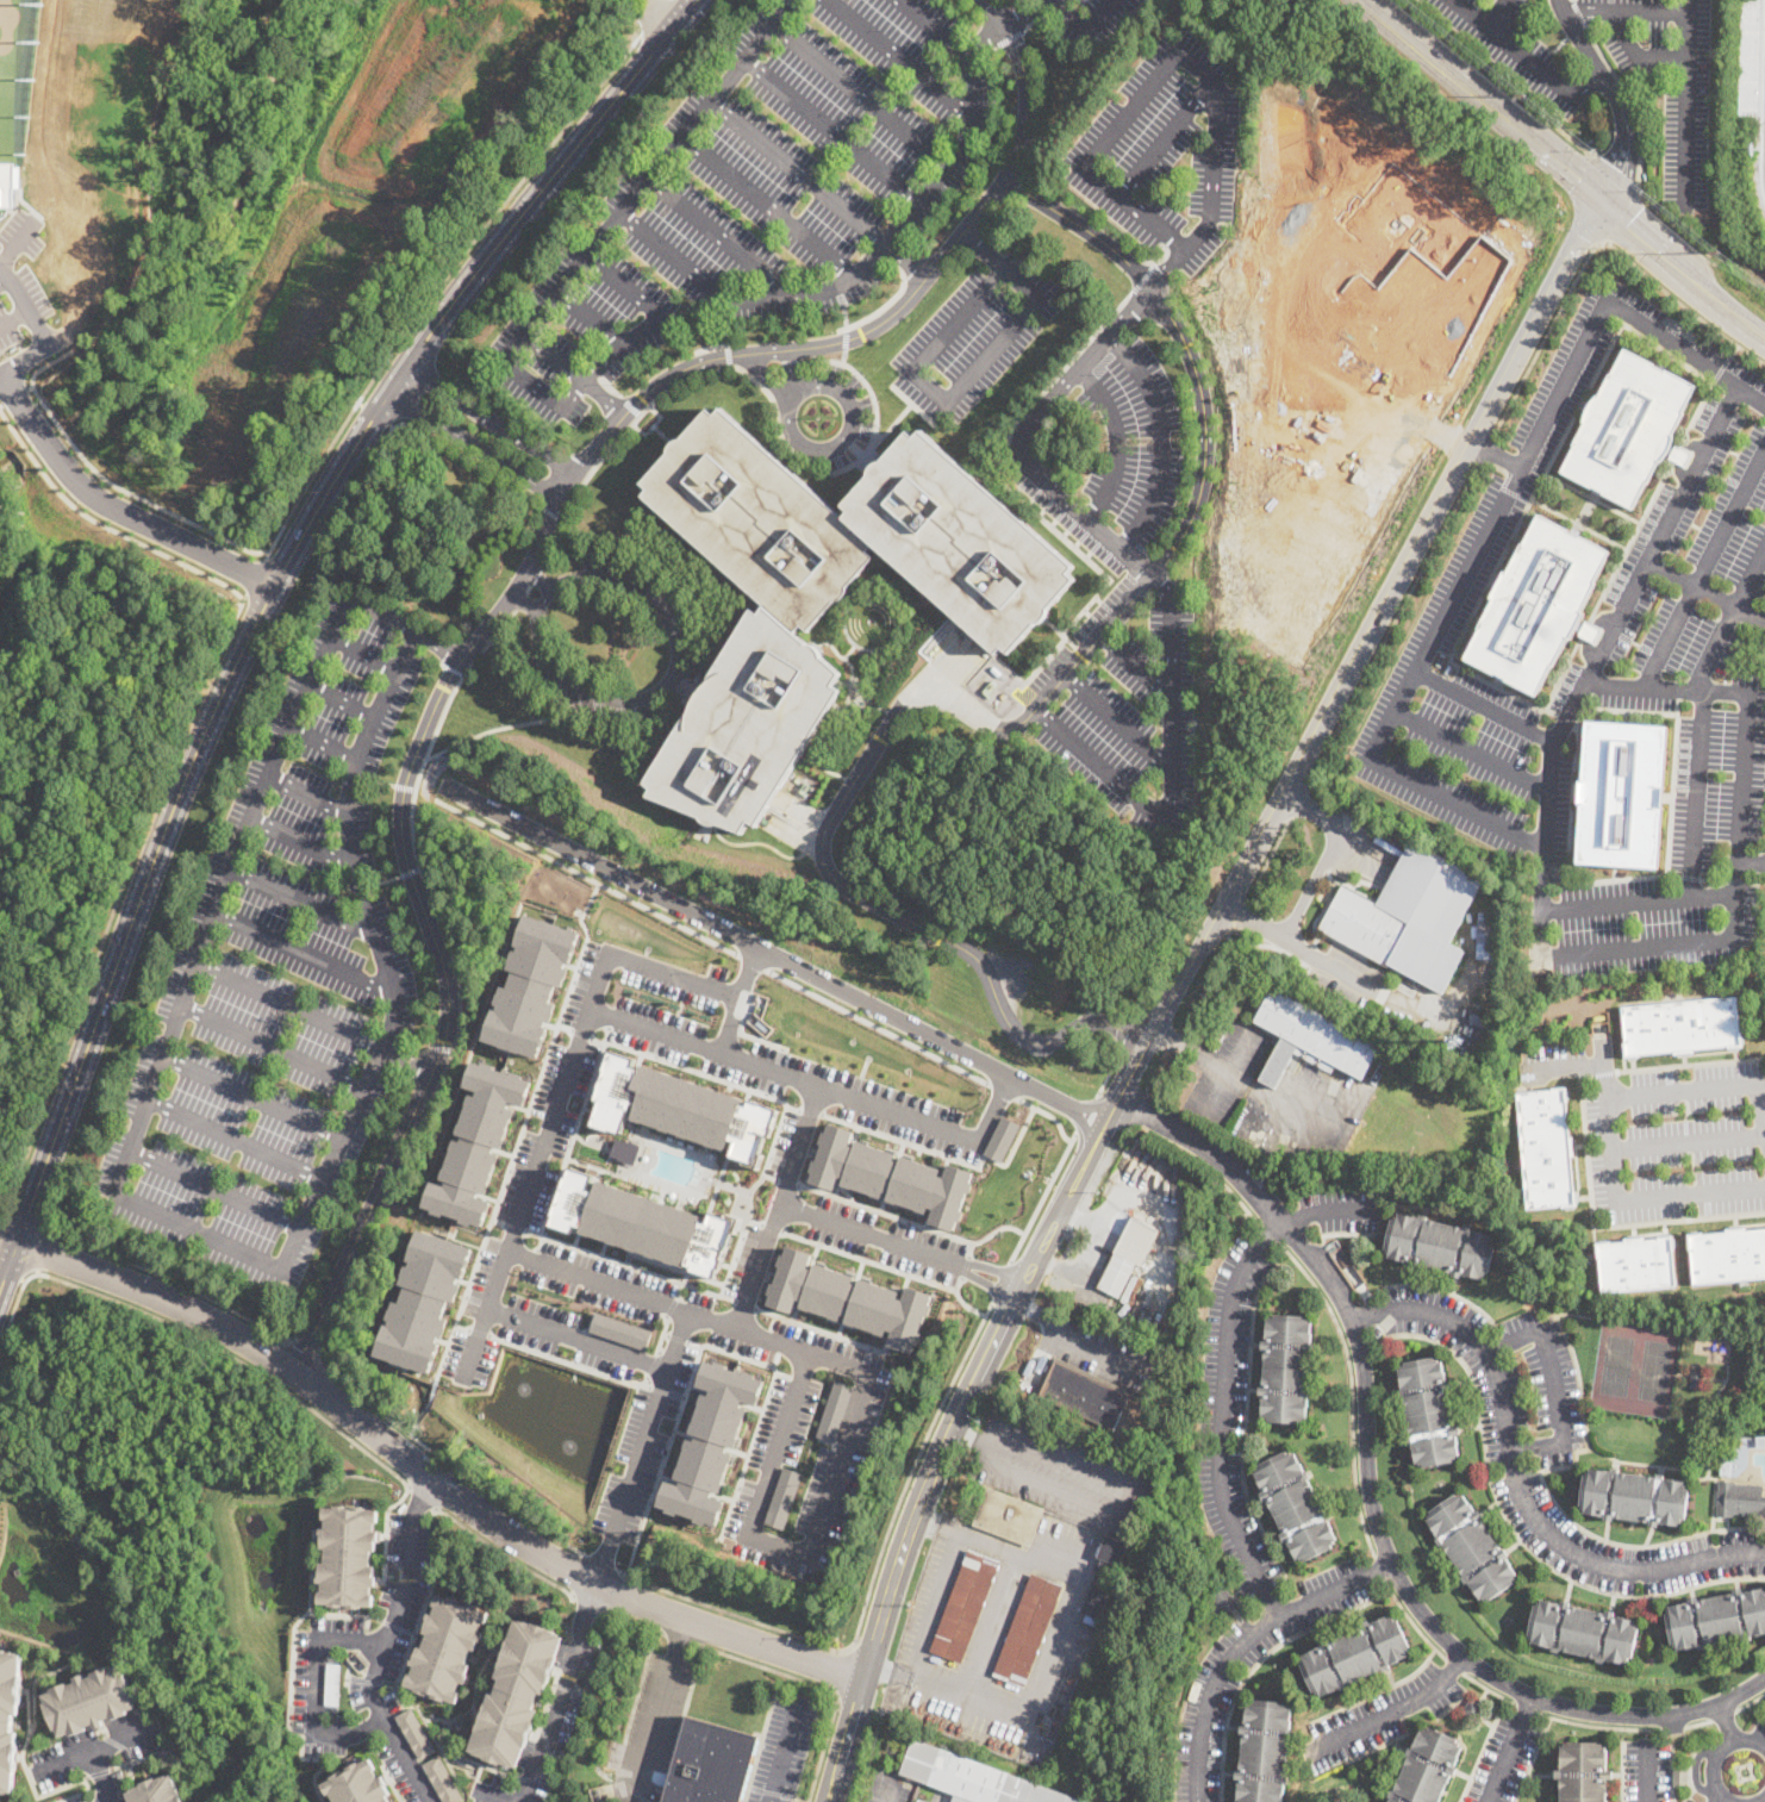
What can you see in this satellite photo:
road: (1056, 0)
road: (1628, 8)
road: (1579, 13)
road: (647, 15)
parking lot: (1090, 19)
road: (1504, 20)
road: (934, 25)
road: (1005, 27)
road: (1091, 33)
road: (1639, 55)
road: (1526, 57)
road: (899, 58)
road: (1164, 63)
park: (15, 71)
road: (1496, 75)
power tower: (1526, 94)
road: (1613, 94)
road: (861, 96)
road: (1483, 96)
road: (1689, 104)
road: (691, 129)
track: (1763, 130)
road: (831, 132)
road: (1165, 138)
parking lot: (1164, 148)
road: (1642, 150)
parking lot: (807, 155)
road: (1428, 162)
road: (1615, 172)
road: (799, 173)
road: (1578, 174)
building: (10, 182)
traffic signals: (1602, 195)
road: (771, 206)
road: (1624, 217)
road: (1586, 229)
road: (721, 237)
road: (1594, 244)
road: (15, 245)
power tower: (1717, 252)
road: (1160, 258)
building: (1429, 262)
road: (1683, 266)
road: (853, 276)
road: (1143, 278)
road: (1162, 278)
road: (443, 279)
parking lot: (1284, 291)
parking lot: (24, 299)
road: (886, 303)
road: (14, 317)
road: (592, 318)
road: (42, 330)
parking lot: (578, 330)
parking lot: (974, 337)
road: (1185, 347)
road: (1734, 349)
road: (1667, 353)
road: (557, 357)
road: (1721, 368)
road: (790, 376)
road: (1055, 376)
road: (961, 382)
road: (766, 384)
road: (32, 386)
road: (1751, 392)
road: (15, 394)
road: (605, 397)
road: (570, 399)
road: (360, 403)
road: (1, 405)
road: (378, 413)
road: (636, 418)
road: (489, 419)
road: (788, 420)
building: (1628, 426)
road: (1025, 438)
parking lot: (1135, 438)
road: (1161, 439)
road: (1117, 442)
road: (474, 444)
road: (1485, 447)
parking lot: (1545, 448)
road: (1495, 453)
road: (1679, 454)
road: (464, 456)
road: (1492, 463)
road: (107, 479)
road: (1508, 490)
road: (1532, 497)
road: (1592, 498)
road: (118, 505)
road: (1585, 511)
road: (554, 515)
road: (104, 524)
road: (1577, 524)
parking lot: (1699, 543)
road: (1627, 544)
road: (1704, 567)
road: (257, 574)
road: (536, 576)
road: (536, 578)
road: (519, 580)
road: (529, 588)
road: (1704, 588)
building: (823, 592)
road: (1453, 594)
road: (266, 599)
road: (520, 601)
road: (523, 601)
building: (1541, 603)
road: (1391, 624)
road: (1751, 625)
road: (411, 628)
road: (1590, 631)
road: (537, 642)
road: (363, 655)
road: (429, 659)
road: (1134, 666)
road: (453, 669)
parking lot: (1118, 678)
road: (1502, 687)
road: (690, 690)
parking lot: (1613, 691)
road: (342, 702)
road: (1484, 703)
road: (1698, 713)
road: (1565, 719)
road: (1116, 722)
road: (500, 727)
road: (323, 746)
road: (1472, 749)
parking lot: (1468, 761)
road: (1171, 777)
road: (376, 780)
parking lot: (1720, 780)
road: (404, 786)
road: (1671, 786)
building: (1622, 794)
road: (307, 797)
road: (1299, 803)
road: (1570, 803)
road: (836, 816)
road: (300, 842)
road: (1268, 859)
road: (1752, 861)
road: (410, 871)
road: (585, 875)
road: (1690, 875)
road: (1711, 879)
road: (1735, 879)
road: (1754, 880)
road: (383, 881)
road: (1311, 881)
road: (1738, 884)
road: (117, 898)
road: (300, 899)
road: (1640, 900)
building: (1429, 914)
building: (1365, 925)
parking lot: (1651, 925)
road: (1211, 927)
building: (1486, 936)
road: (775, 954)
road: (305, 956)
road: (751, 961)
road: (644, 965)
parking lot: (1346, 975)
parking lot: (277, 978)
building: (532, 985)
road: (1386, 991)
road: (737, 998)
road: (1146, 1004)
road: (289, 1006)
building: (1482, 1011)
building: (1682, 1025)
road: (565, 1027)
road: (877, 1027)
road: (1130, 1031)
road: (579, 1034)
building: (1310, 1039)
road: (595, 1041)
road: (441, 1047)
road: (273, 1049)
road: (412, 1049)
road: (1191, 1053)
road: (406, 1060)
parking lot: (588, 1061)
parking lot: (1551, 1061)
road: (1690, 1064)
road: (1584, 1065)
road: (1109, 1071)
road: (1229, 1071)
road: (703, 1073)
road: (1603, 1073)
parking lot: (796, 1078)
road: (1003, 1090)
road: (254, 1098)
parking lot: (1273, 1100)
road: (1281, 1103)
road: (1760, 1104)
building: (681, 1108)
road: (811, 1111)
road: (1085, 1114)
road: (1049, 1115)
road: (523, 1126)
road: (573, 1130)
road: (413, 1137)
building: (1000, 1137)
road: (236, 1139)
road: (1688, 1140)
road: (542, 1141)
building: (478, 1142)
road: (1610, 1142)
parking lot: (1679, 1142)
parking lot: (791, 1146)
building: (1546, 1148)
road: (948, 1156)
building: (891, 1176)
road: (1254, 1189)
road: (216, 1190)
road: (1043, 1196)
road: (749, 1198)
road: (780, 1205)
parking lot: (1341, 1208)
road: (1080, 1218)
road: (4, 1220)
road: (911, 1221)
road: (498, 1222)
building: (643, 1222)
road: (755, 1222)
road: (1597, 1226)
road: (514, 1227)
road: (771, 1227)
road: (1097, 1227)
road: (857, 1228)
road: (540, 1242)
parking lot: (837, 1242)
road: (217, 1243)
building: (1440, 1246)
road: (39, 1249)
road: (971, 1249)
building: (1728, 1255)
building: (1128, 1257)
road: (630, 1265)
road: (883, 1265)
road: (979, 1265)
road: (1055, 1265)
building: (1635, 1265)
road: (965, 1266)
road: (974, 1277)
road: (174, 1280)
road: (1000, 1280)
road: (959, 1284)
road: (681, 1290)
building: (849, 1297)
building: (425, 1301)
road: (744, 1303)
parking lot: (551, 1305)
road: (673, 1305)
road: (1039, 1311)
road: (485, 1314)
road: (981, 1314)
road: (772, 1322)
road: (463, 1327)
road: (818, 1329)
building: (622, 1330)
road: (480, 1332)
road: (662, 1333)
road: (675, 1336)
road: (578, 1338)
road: (303, 1346)
parking lot: (1100, 1349)
road: (1102, 1352)
road: (740, 1355)
road: (569, 1360)
road: (775, 1360)
road: (840, 1360)
road: (243, 1361)
road: (654, 1364)
park: (1616, 1364)
building: (1286, 1370)
park: (1655, 1370)
road: (1224, 1371)
parking lot: (1503, 1371)
building: (1697, 1377)
road: (645, 1380)
road: (1551, 1380)
road: (667, 1391)
road: (1349, 1391)
building: (1084, 1393)
building: (836, 1409)
building: (1428, 1411)
road: (418, 1416)
parking lot: (1230, 1417)
parking lot: (793, 1429)
road: (969, 1438)
parking lot: (643, 1441)
building: (711, 1441)
building: (1760, 1442)
road: (642, 1446)
road: (749, 1453)
road: (663, 1459)
building: (1727, 1465)
parking lot: (1064, 1470)
road: (429, 1478)
road: (1517, 1485)
road: (1548, 1494)
road: (831, 1496)
building: (784, 1497)
road: (1133, 1497)
building: (1633, 1497)
road: (419, 1498)
building: (1740, 1499)
building: (1295, 1505)
building: (1009, 1516)
parking lot: (1546, 1527)
building: (1472, 1547)
road: (504, 1553)
building: (348, 1555)
road: (600, 1560)
road: (1046, 1560)
road: (1380, 1567)
building: (1103, 1578)
road: (871, 1588)
building: (1225, 1600)
road: (588, 1603)
building: (965, 1605)
road: (994, 1617)
road: (630, 1619)
building: (1716, 1619)
road: (1430, 1621)
road: (1412, 1622)
parking lot: (922, 1625)
building: (1028, 1629)
building: (1583, 1632)
road: (680, 1636)
road: (680, 1639)
road: (386, 1645)
road: (1243, 1645)
parking lot: (363, 1646)
building: (445, 1647)
road: (1055, 1647)
building: (1354, 1656)
road: (1455, 1666)
road: (837, 1670)
parking lot: (1215, 1678)
building: (332, 1683)
road: (819, 1684)
road: (1489, 1689)
road: (316, 1691)
road: (560, 1691)
road: (1744, 1691)
building: (516, 1692)
road: (991, 1694)
building: (89, 1700)
road: (1750, 1702)
road: (1527, 1707)
road: (1402, 1708)
building: (1473, 1710)
building: (10, 1715)
road: (1722, 1715)
parking lot: (1377, 1717)
road: (1697, 1722)
road: (1727, 1722)
road: (1599, 1725)
parking lot: (653, 1728)
parking lot: (547, 1729)
road: (654, 1731)
building: (414, 1733)
parking lot: (1758, 1738)
road: (846, 1740)
parking lot: (95, 1748)
road: (784, 1748)
road: (1511, 1748)
parking lot: (784, 1750)
building: (1264, 1752)
road: (93, 1753)
road: (1716, 1753)
road: (863, 1754)
parking lot: (1503, 1759)
building: (711, 1763)
parking lot: (404, 1765)
building: (1427, 1767)
building: (1583, 1772)
parking lot: (1646, 1772)
road: (1648, 1775)
road: (100, 1777)
building: (972, 1777)
building: (1679, 1777)
road: (314, 1779)
building: (441, 1779)
building: (358, 1784)
parking lot: (885, 1787)
road: (891, 1790)
building: (157, 1791)
road: (491, 1797)
parking lot: (1753, 1797)
road: (1717, 1798)
parking lot: (1690, 1801)
road: (1763, 1801)

